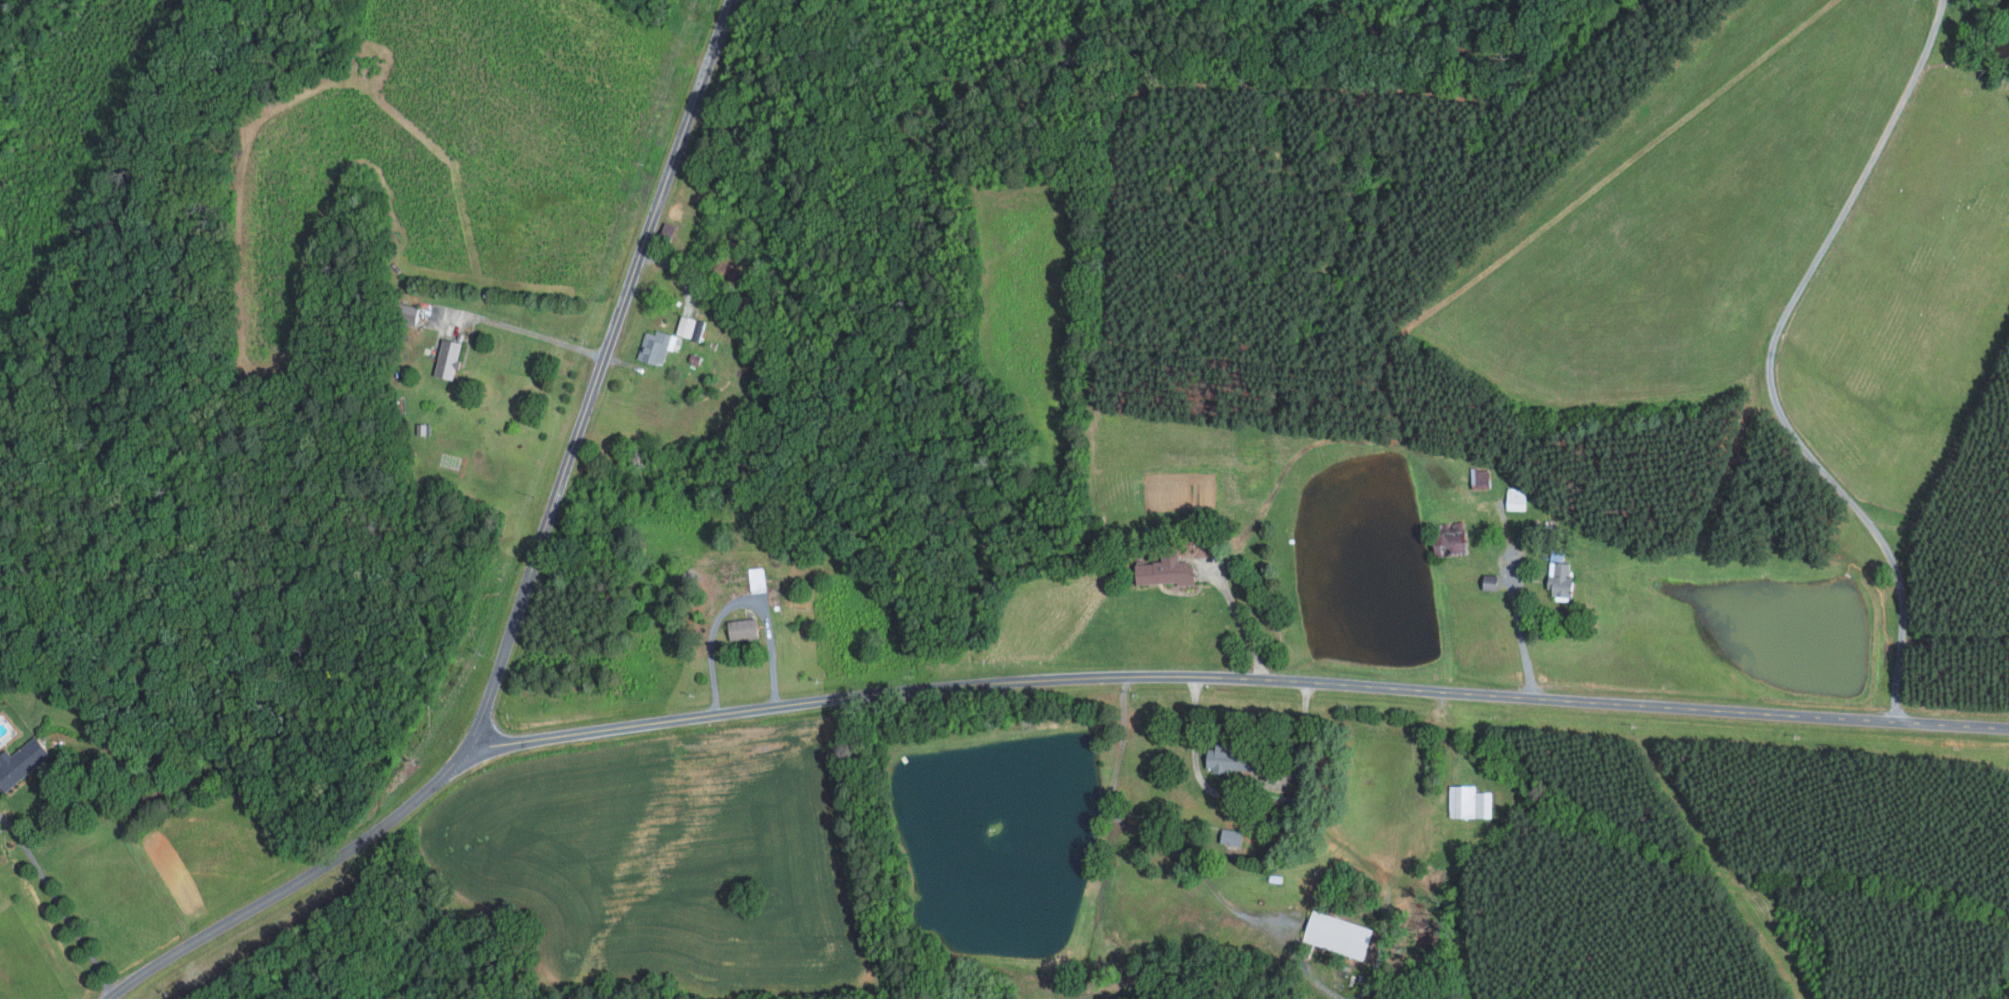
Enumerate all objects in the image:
road: (642, 261)
building: (686, 325)
road: (529, 335)
building: (656, 346)
building: (447, 358)
road: (1767, 360)
building: (1480, 475)
building: (1516, 498)
building: (1451, 540)
building: (1165, 570)
building: (1560, 577)
road: (1515, 598)
building: (742, 628)
road: (1241, 628)
road: (1235, 676)
building: (1225, 758)
building: (20, 762)
road: (1241, 788)
building: (1469, 802)
road: (393, 815)
road: (1148, 834)
building: (1231, 836)
road: (55, 908)
building: (1338, 934)

